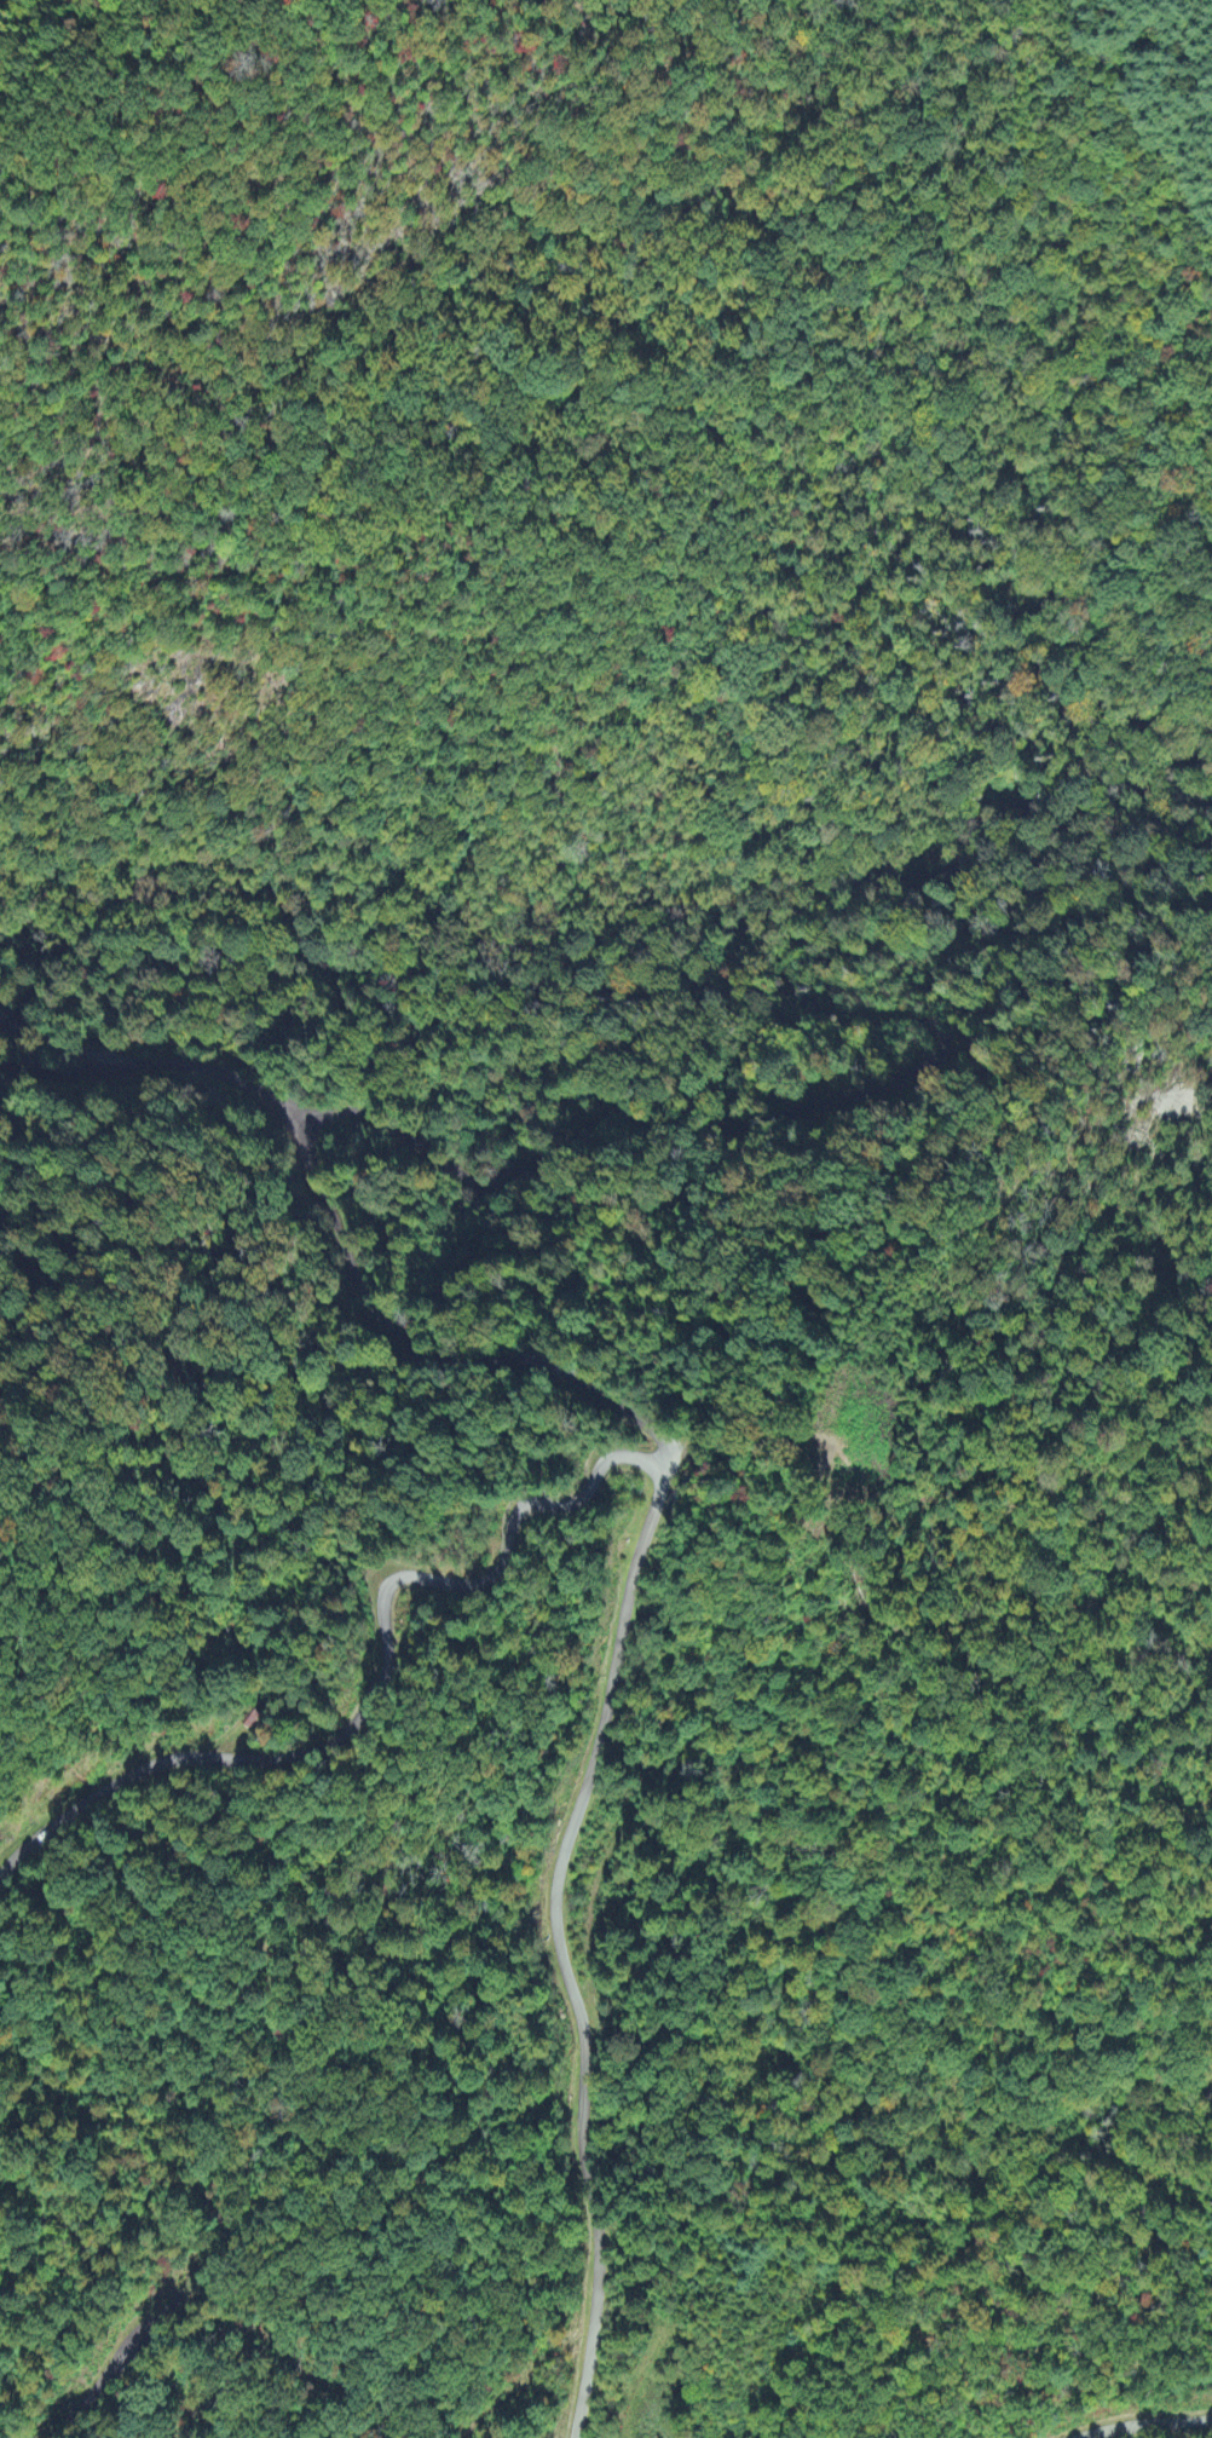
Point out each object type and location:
road: (656, 1516)
building: (250, 1719)
road: (117, 2364)
road: (1143, 2423)

